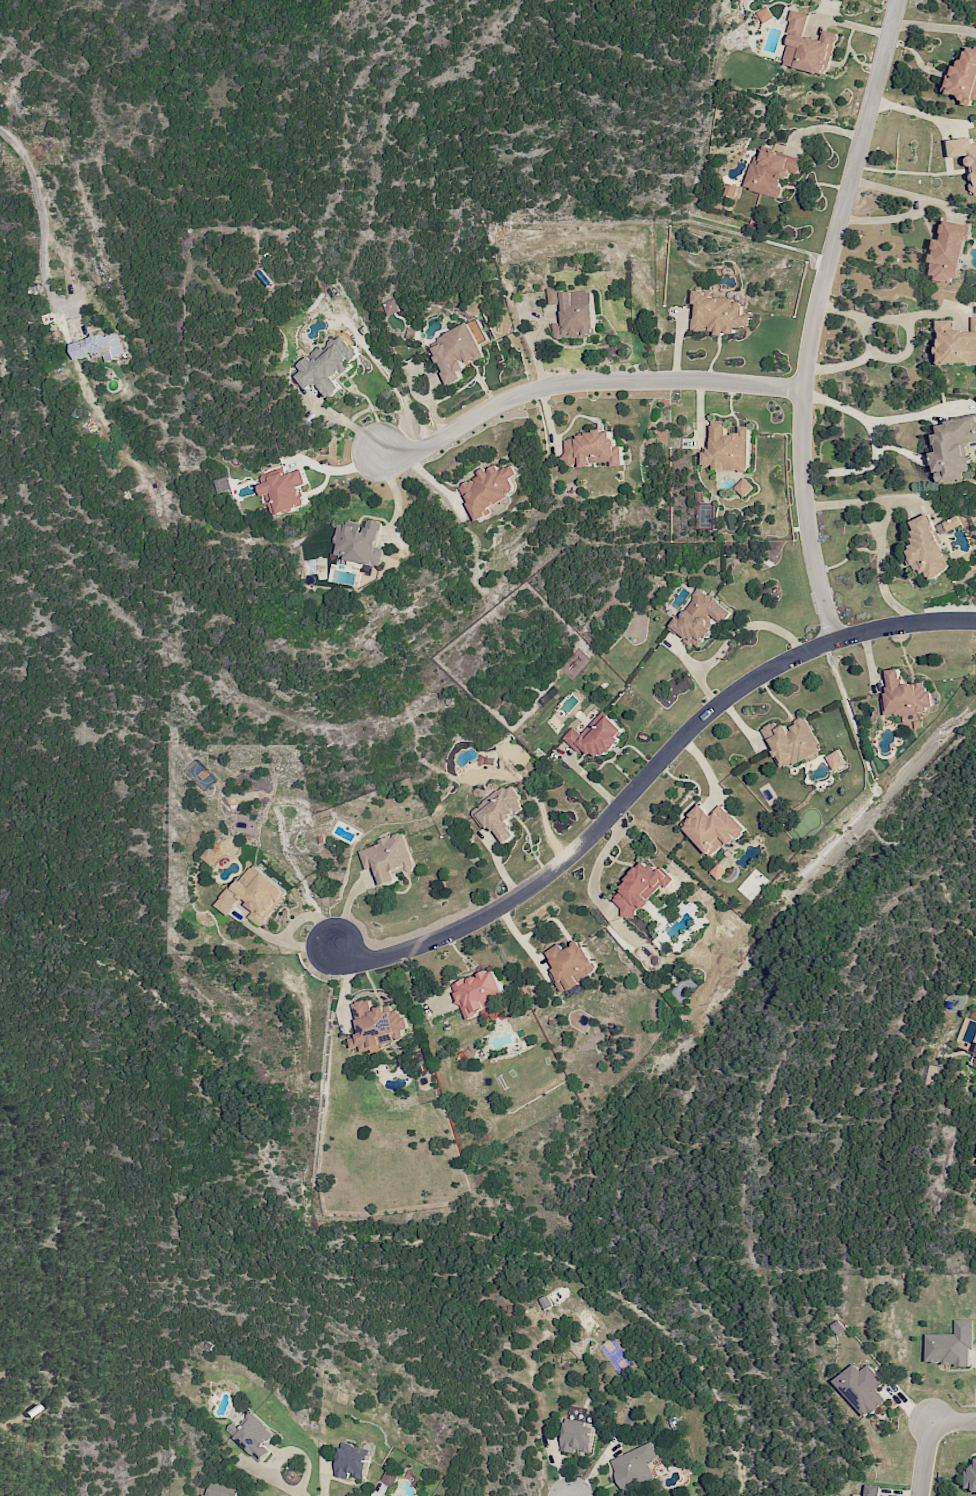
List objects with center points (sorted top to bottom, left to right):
building: (764, 14)
building: (796, 20)
building: (811, 51)
building: (964, 77)
road: (923, 112)
building: (771, 171)
building: (972, 175)
building: (730, 190)
road: (916, 206)
road: (40, 215)
building: (949, 251)
building: (391, 306)
building: (574, 313)
building: (717, 314)
road: (819, 317)
building: (956, 342)
building: (100, 346)
road: (909, 348)
building: (458, 350)
building: (327, 365)
road: (586, 383)
road: (398, 393)
road: (349, 424)
road: (874, 441)
building: (952, 447)
building: (727, 448)
building: (592, 449)
building: (224, 484)
building: (744, 487)
building: (488, 489)
building: (286, 491)
road: (862, 505)
road: (868, 523)
building: (948, 524)
building: (358, 542)
building: (927, 548)
road: (878, 568)
building: (699, 618)
building: (904, 694)
building: (597, 737)
building: (791, 741)
building: (836, 760)
road: (647, 776)
building: (500, 813)
building: (713, 828)
building: (387, 857)
building: (639, 888)
building: (254, 895)
building: (570, 965)
building: (480, 995)
building: (973, 1012)
building: (378, 1025)
building: (974, 1063)
building: (950, 1345)
building: (861, 1388)
road: (953, 1419)
building: (578, 1434)
building: (253, 1435)
road: (282, 1454)
road: (922, 1457)
building: (353, 1460)
building: (634, 1465)
building: (390, 1477)
building: (970, 1478)
building: (222, 1490)
building: (873, 1490)
road: (299, 1495)
building: (387, 1495)
building: (859, 1495)

